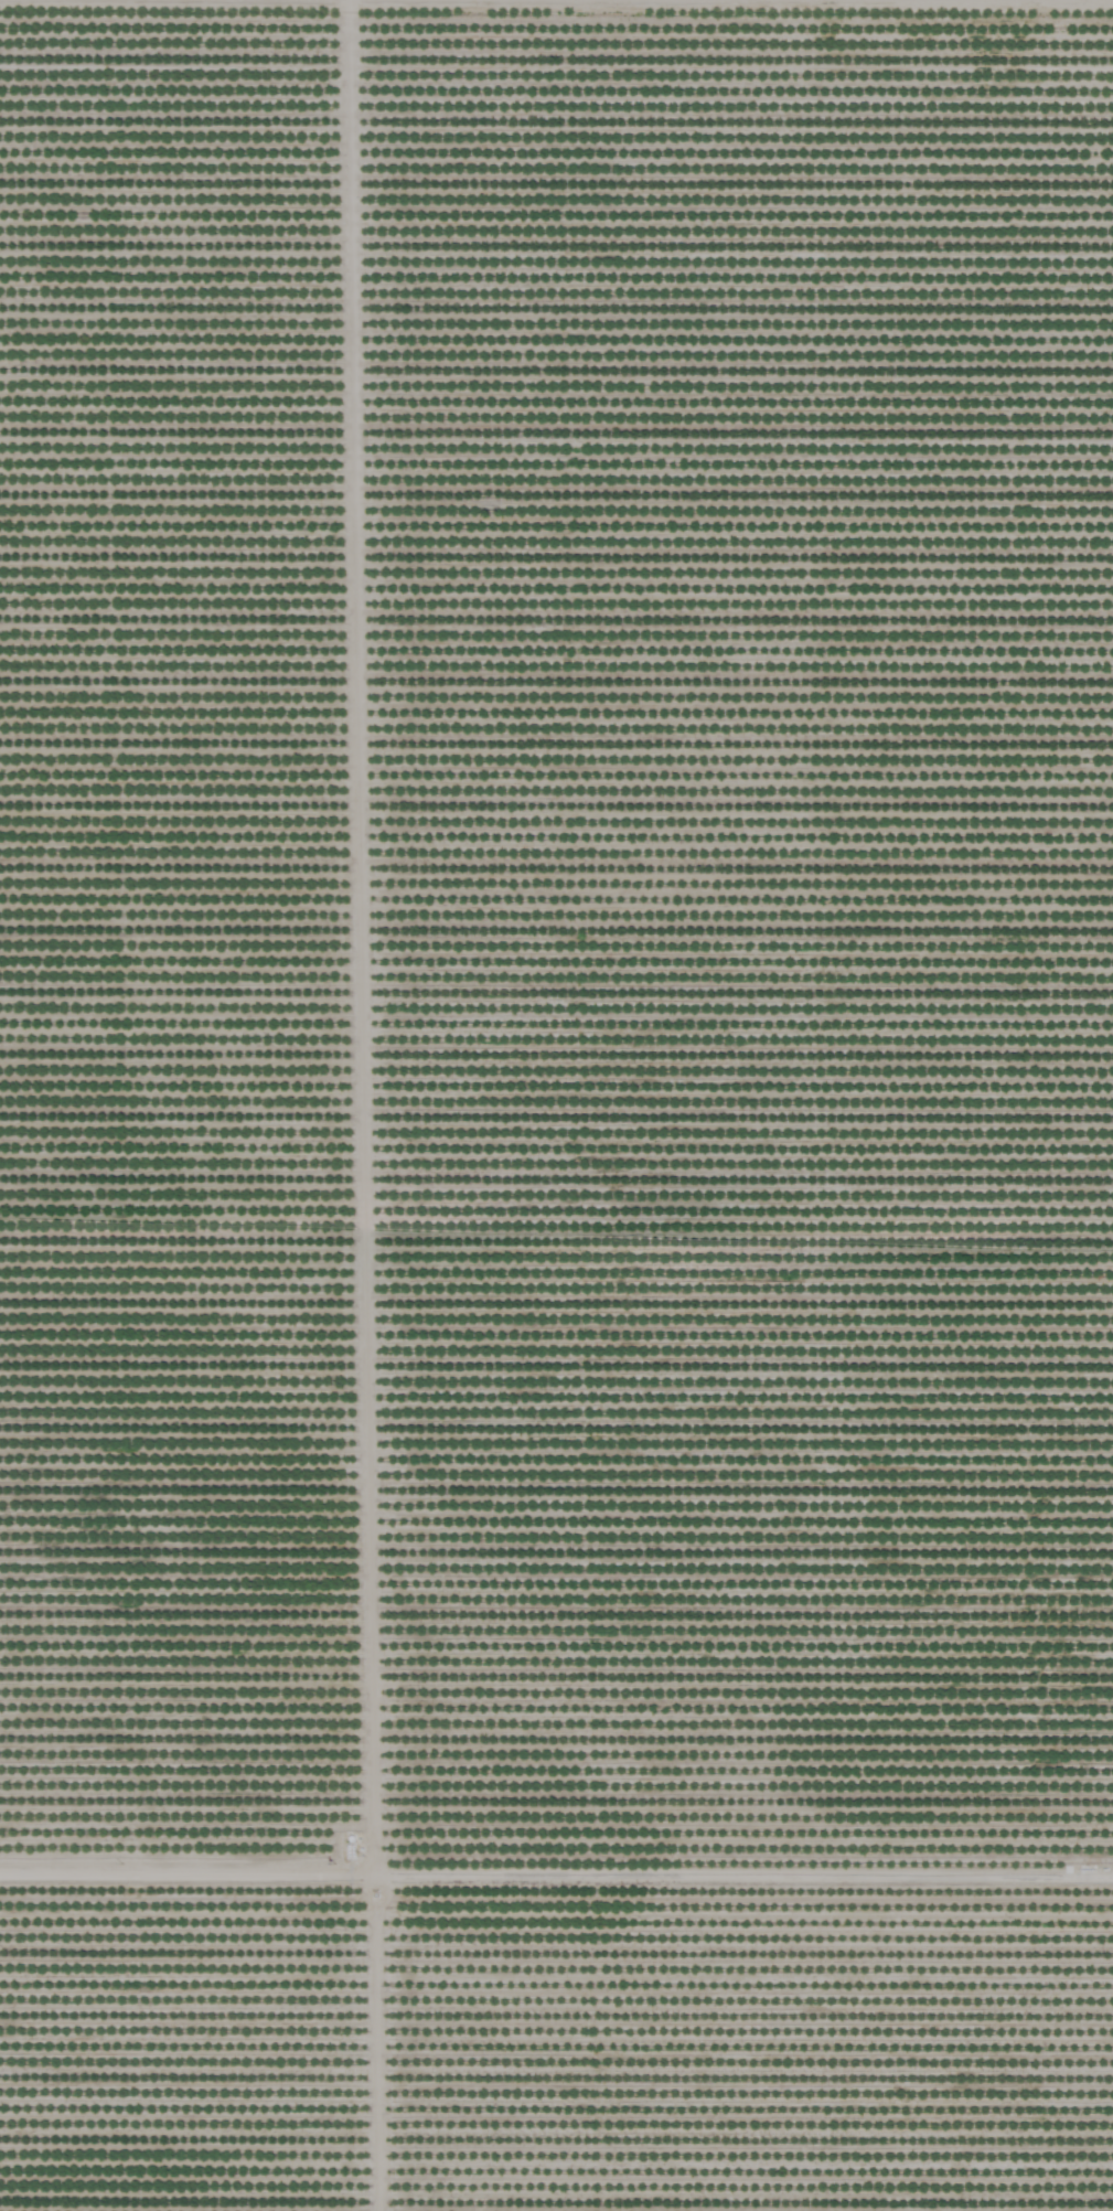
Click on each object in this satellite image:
road: (556, 952)
road: (373, 1581)
road: (556, 1890)

